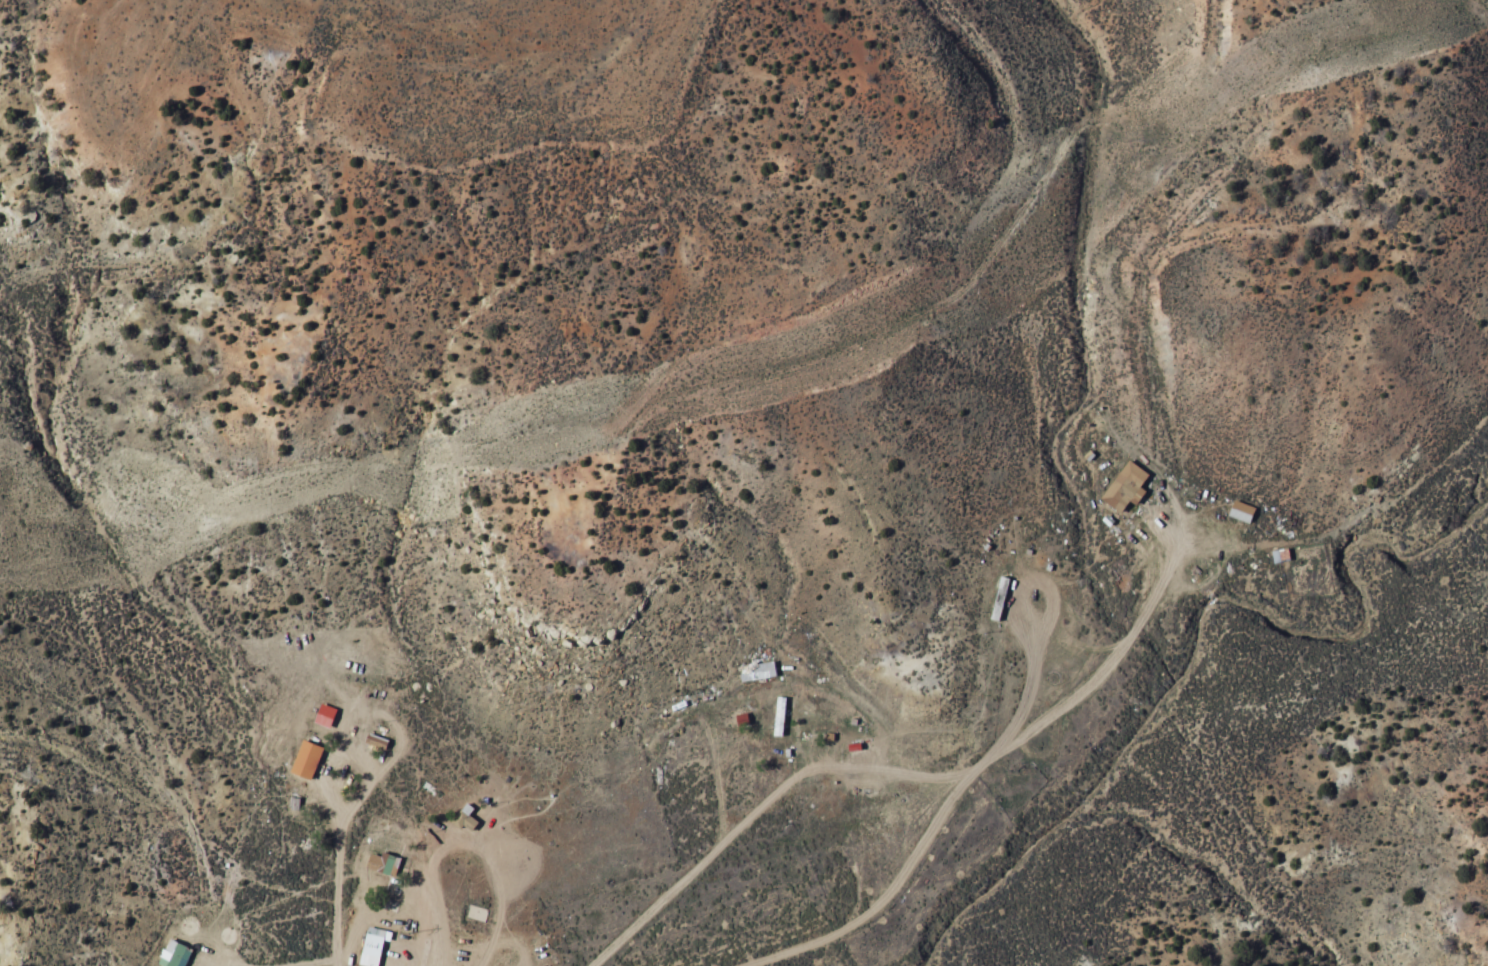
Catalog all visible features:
railway: (1349, 36)
railway: (1085, 187)
railway: (482, 440)
building: (1122, 492)
building: (1243, 511)
building: (1000, 600)
building: (782, 716)
building: (308, 760)
building: (383, 863)
building: (375, 943)
building: (176, 955)

